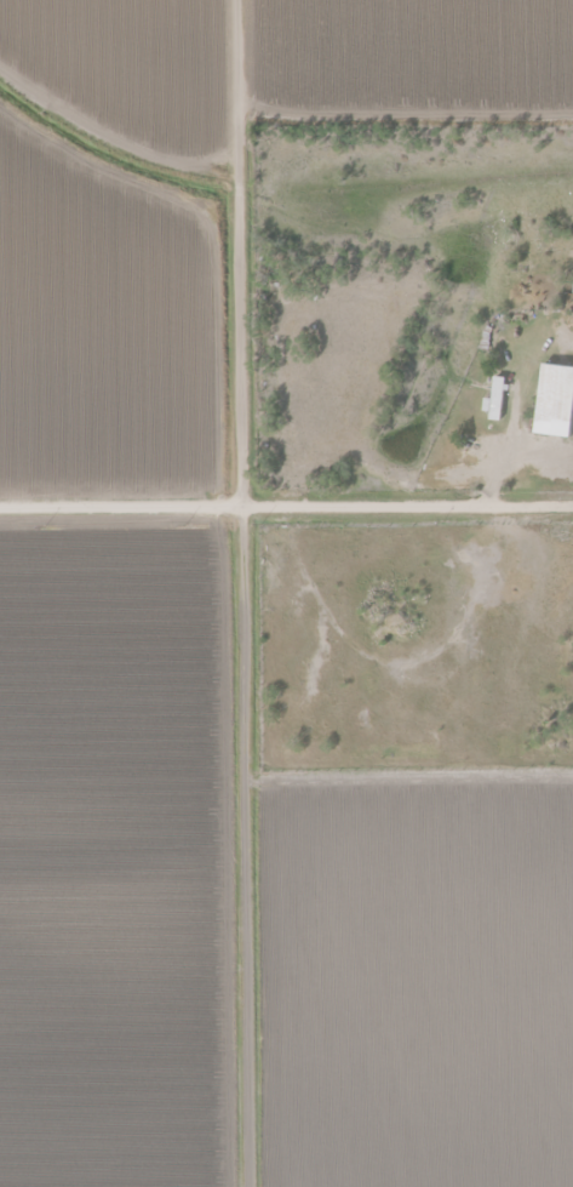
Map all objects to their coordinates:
building: (567, 295)
building: (497, 399)
building: (555, 401)
road: (286, 504)
road: (250, 593)

